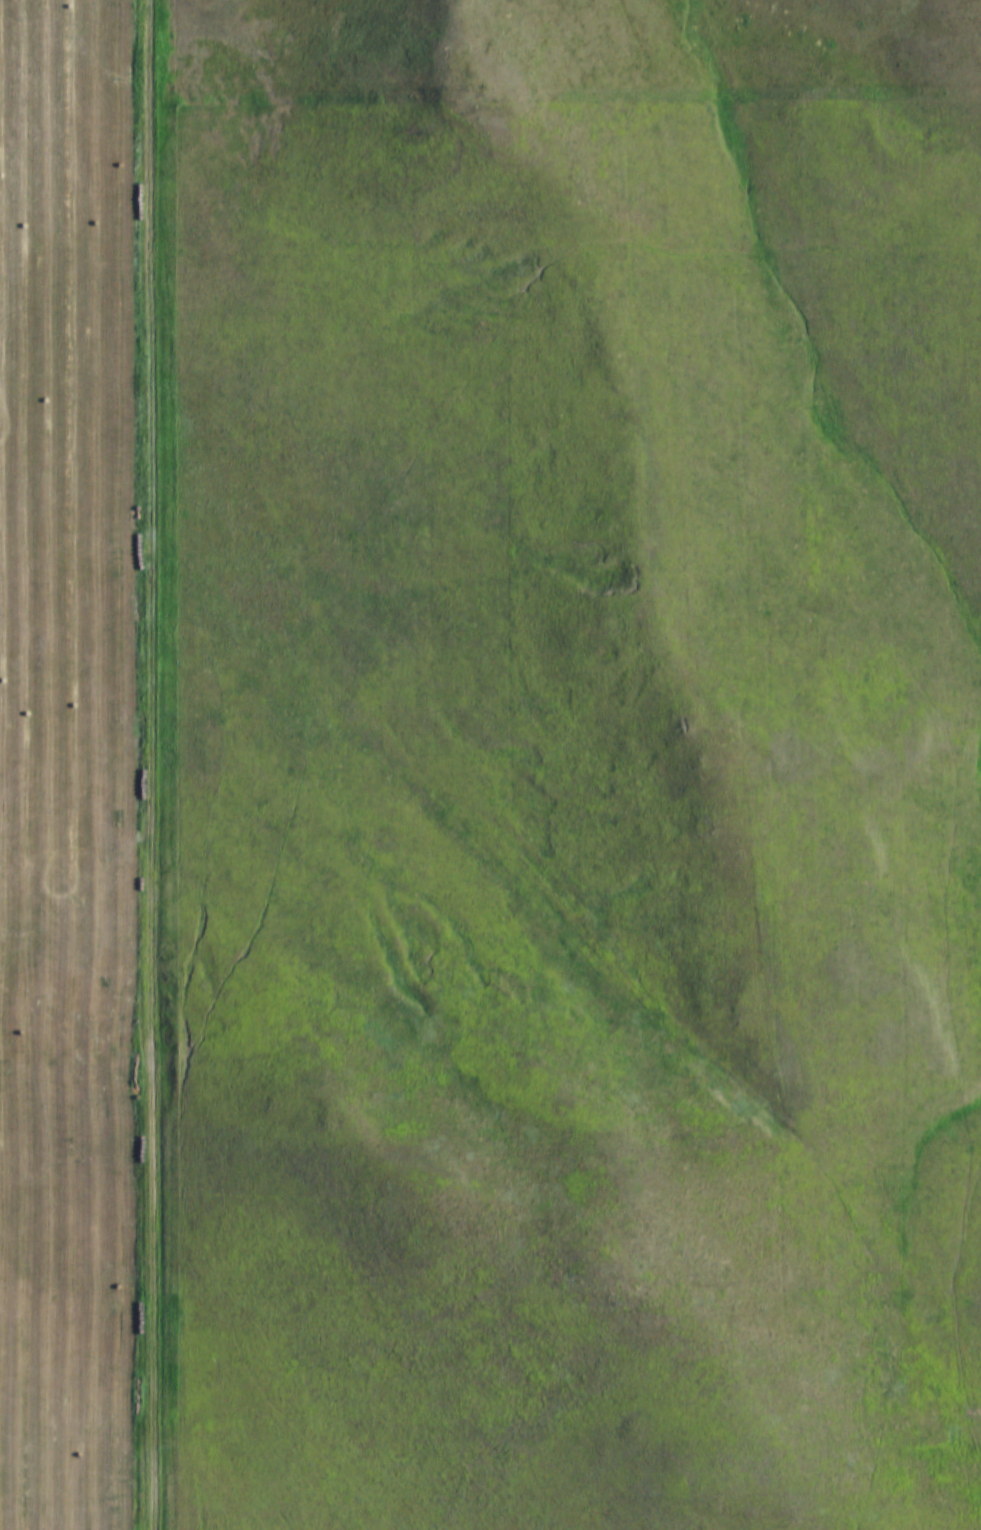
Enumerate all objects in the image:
road: (149, 764)

